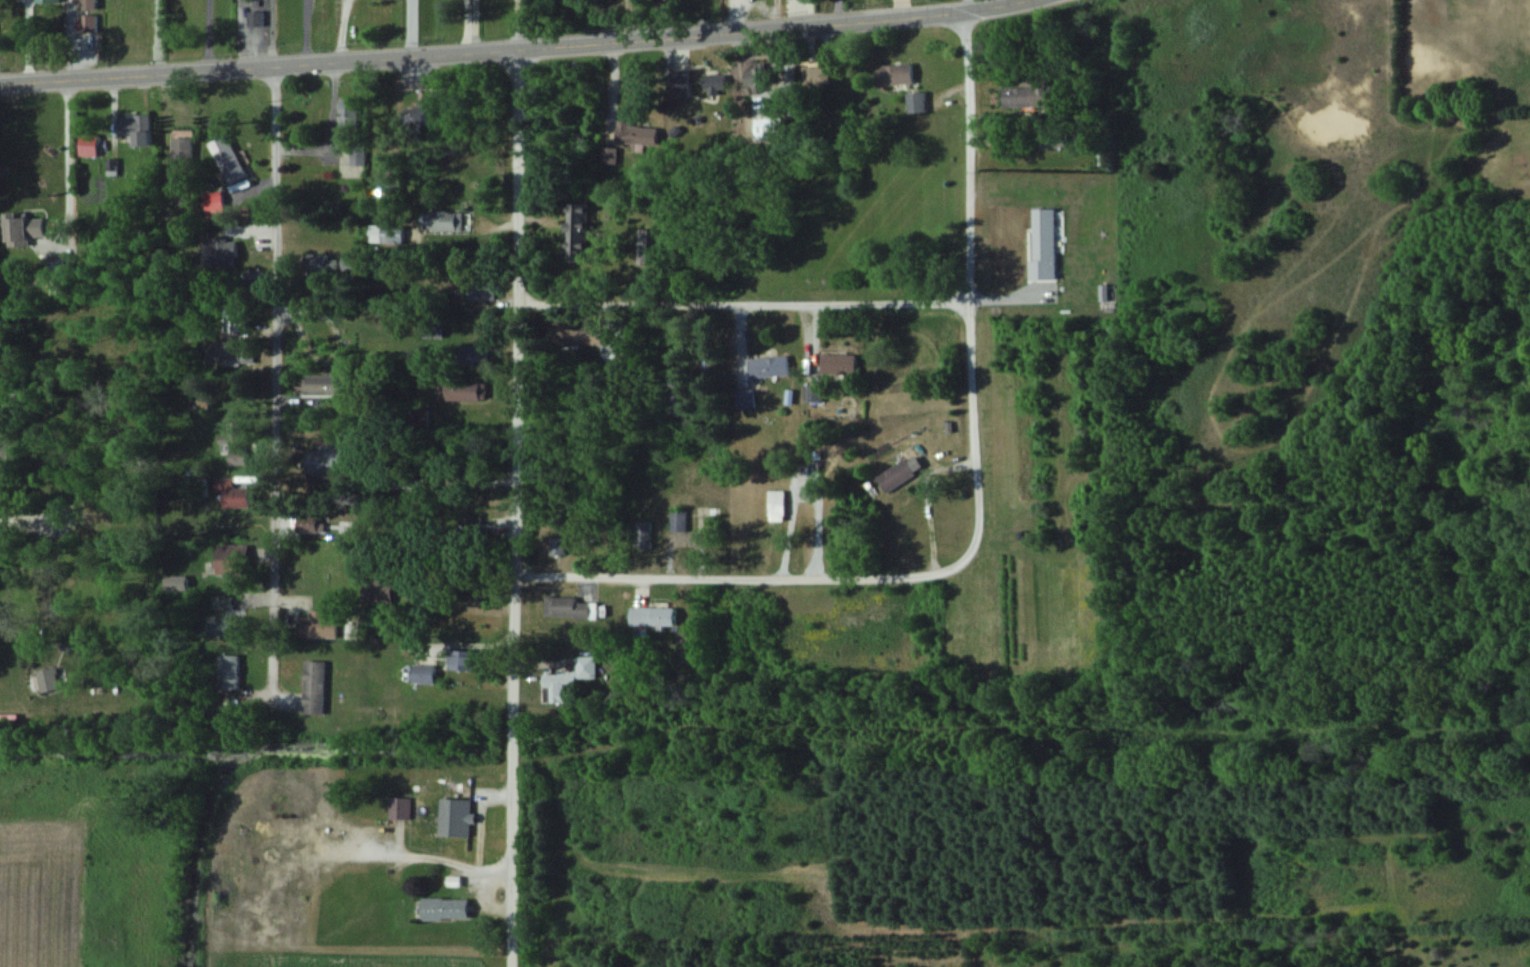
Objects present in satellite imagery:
building: (87, 1)
road: (836, 12)
road: (343, 30)
road: (31, 40)
road: (511, 50)
building: (896, 75)
building: (765, 77)
building: (820, 77)
building: (677, 83)
building: (717, 84)
building: (1030, 97)
building: (917, 103)
building: (135, 125)
road: (329, 127)
building: (774, 129)
building: (352, 132)
building: (638, 133)
building: (1058, 139)
road: (70, 147)
building: (182, 155)
building: (229, 160)
building: (447, 222)
building: (25, 229)
building: (576, 231)
building: (225, 254)
building: (324, 263)
road: (976, 304)
building: (233, 352)
building: (471, 355)
building: (839, 365)
building: (768, 367)
road: (271, 378)
building: (325, 386)
building: (679, 403)
building: (236, 444)
building: (326, 460)
building: (897, 476)
road: (513, 483)
road: (804, 488)
building: (235, 496)
building: (777, 507)
road: (975, 514)
building: (679, 521)
road: (29, 522)
building: (309, 524)
building: (558, 546)
building: (233, 560)
building: (578, 609)
building: (656, 617)
building: (229, 626)
building: (318, 626)
building: (466, 660)
building: (228, 673)
building: (425, 674)
building: (570, 677)
building: (48, 681)
building: (314, 688)
building: (399, 809)
building: (456, 818)
building: (447, 910)

